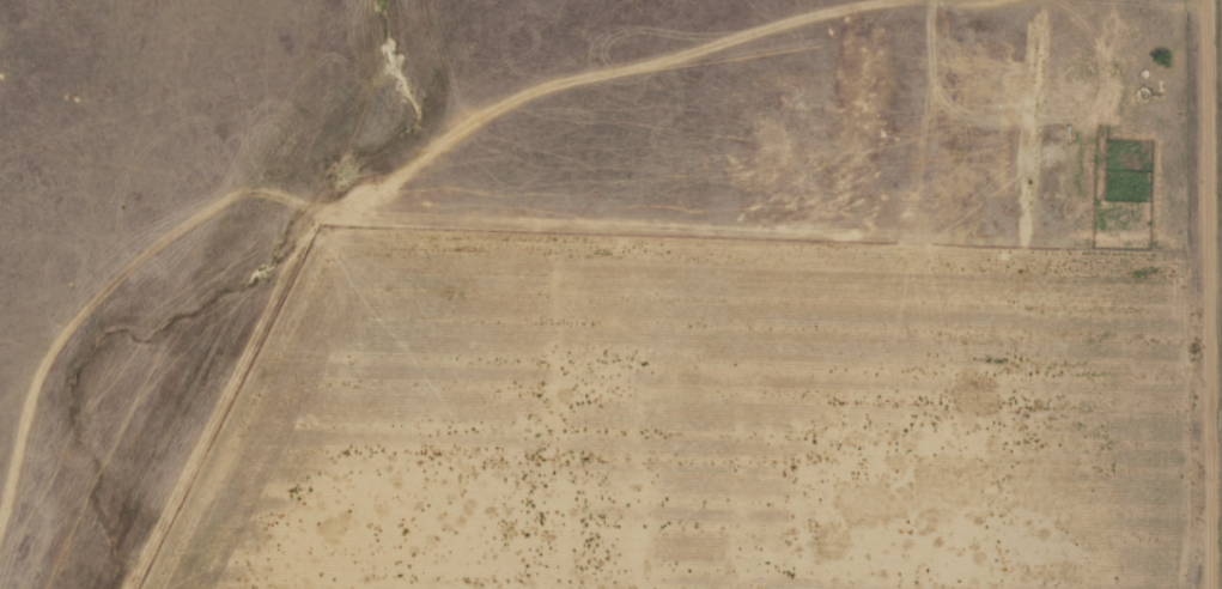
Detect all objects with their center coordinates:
road: (1208, 293)

